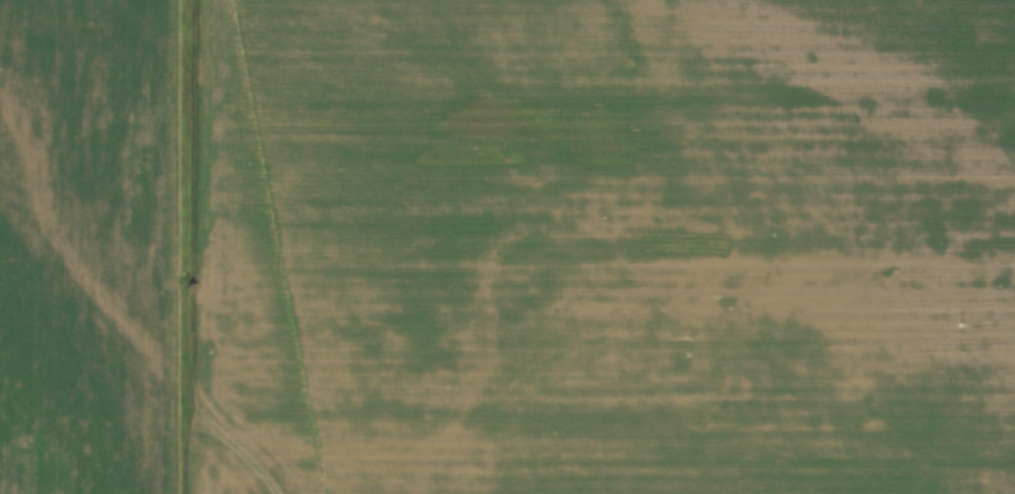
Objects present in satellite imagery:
crop: (507, 247)

